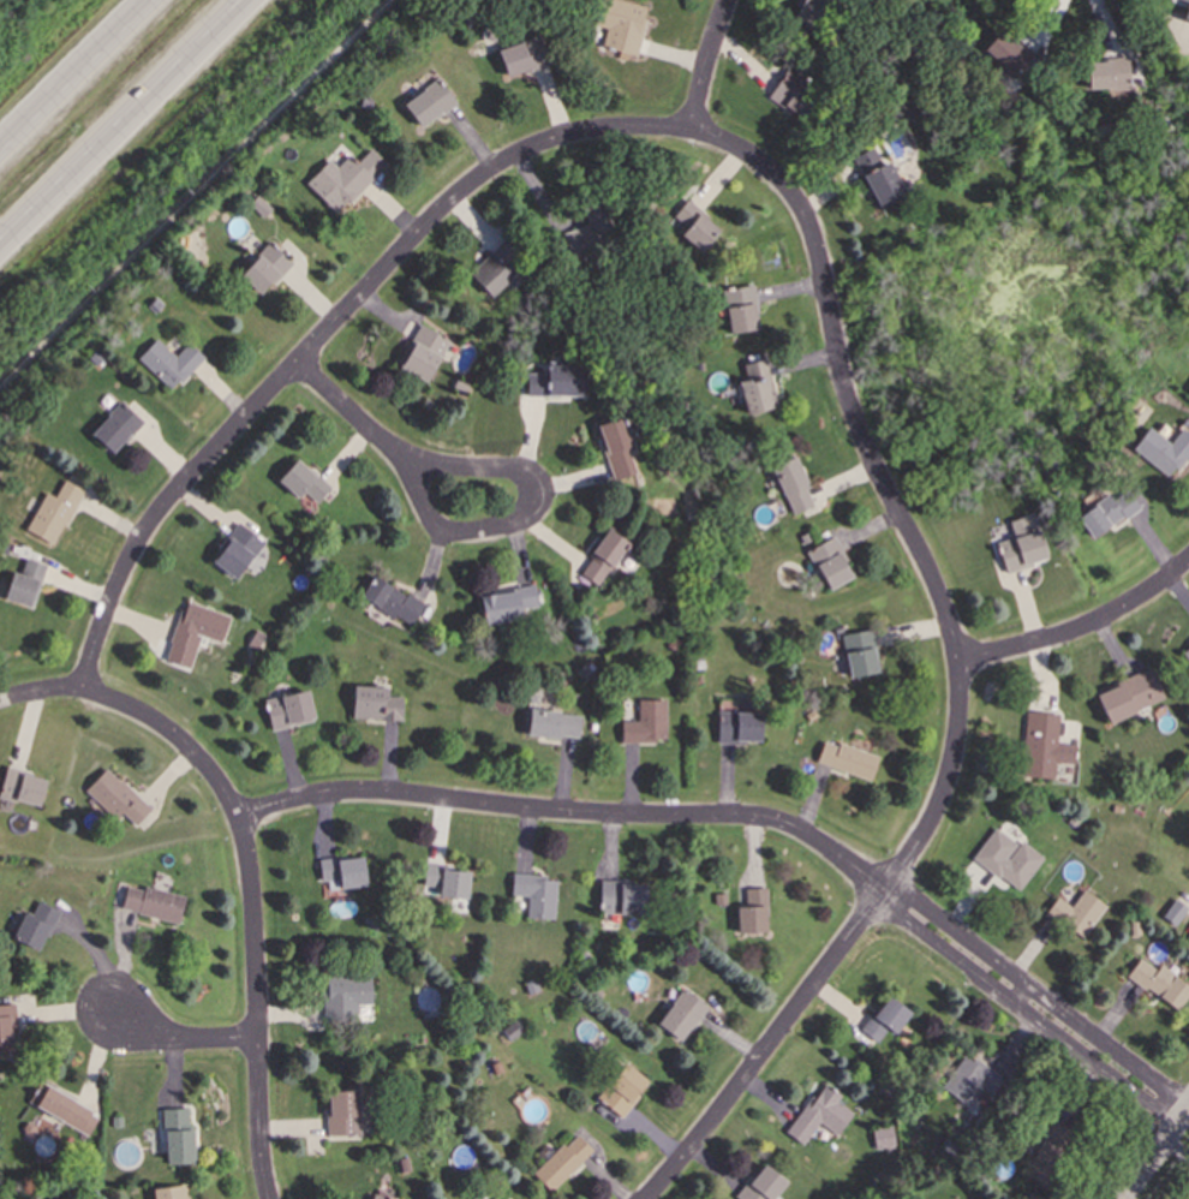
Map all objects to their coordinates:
building: (814, 13)
building: (620, 26)
building: (1010, 58)
building: (526, 59)
road: (701, 68)
road: (84, 80)
building: (789, 94)
building: (431, 107)
road: (125, 124)
building: (882, 181)
building: (346, 183)
road: (461, 189)
road: (196, 193)
building: (697, 231)
building: (588, 243)
building: (267, 273)
building: (500, 273)
building: (742, 314)
building: (424, 357)
building: (171, 366)
building: (560, 384)
building: (757, 390)
building: (118, 431)
building: (620, 452)
building: (1165, 454)
building: (305, 485)
building: (795, 489)
road: (891, 490)
road: (160, 511)
building: (1110, 515)
building: (55, 517)
road: (458, 531)
building: (1023, 550)
building: (238, 555)
building: (609, 561)
building: (831, 567)
building: (26, 586)
building: (393, 604)
building: (508, 609)
road: (1082, 626)
building: (199, 628)
building: (1185, 654)
building: (861, 658)
building: (1131, 699)
building: (377, 708)
building: (291, 714)
building: (647, 727)
building: (555, 728)
building: (741, 730)
building: (1045, 750)
building: (848, 763)
building: (24, 791)
building: (118, 801)
road: (760, 816)
road: (253, 861)
building: (1014, 869)
building: (343, 877)
building: (449, 885)
building: (537, 897)
building: (626, 901)
building: (154, 906)
building: (754, 914)
building: (1079, 915)
building: (37, 927)
building: (1160, 985)
building: (346, 1002)
building: (683, 1018)
building: (7, 1032)
road: (193, 1037)
road: (771, 1044)
building: (972, 1082)
building: (625, 1092)
building: (65, 1110)
building: (345, 1115)
building: (821, 1119)
building: (179, 1139)
building: (884, 1140)
building: (1050, 1156)
road: (1157, 1157)
building: (564, 1164)
building: (765, 1186)
building: (172, 1194)
building: (378, 1197)

